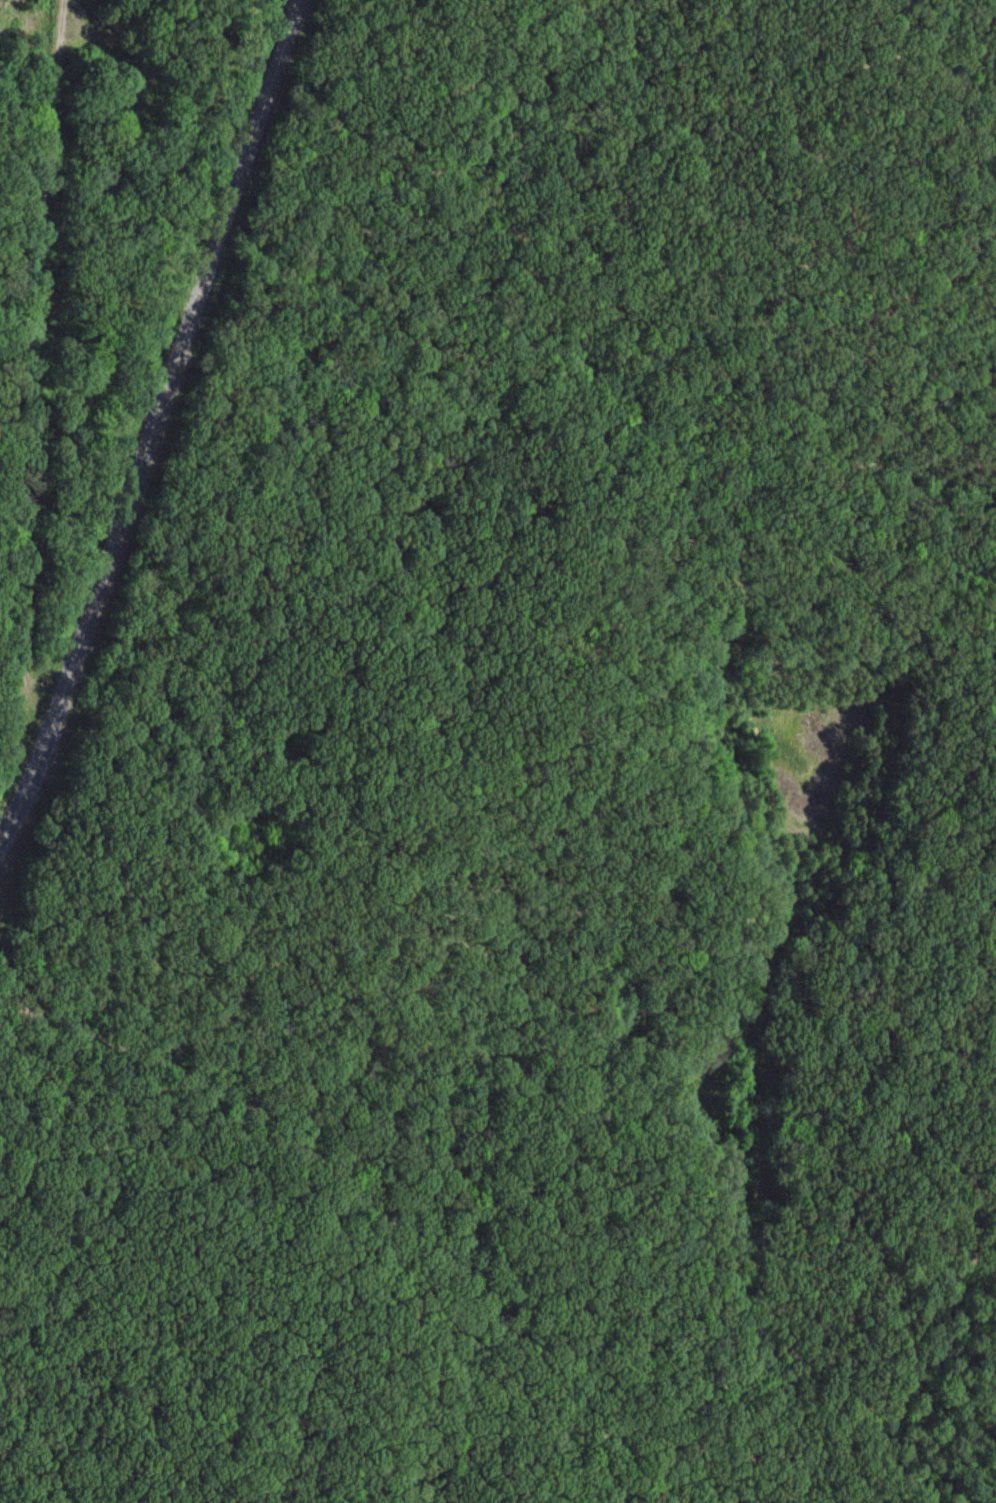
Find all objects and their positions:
road: (153, 422)
road: (729, 644)
road: (237, 1100)
road: (558, 1378)

